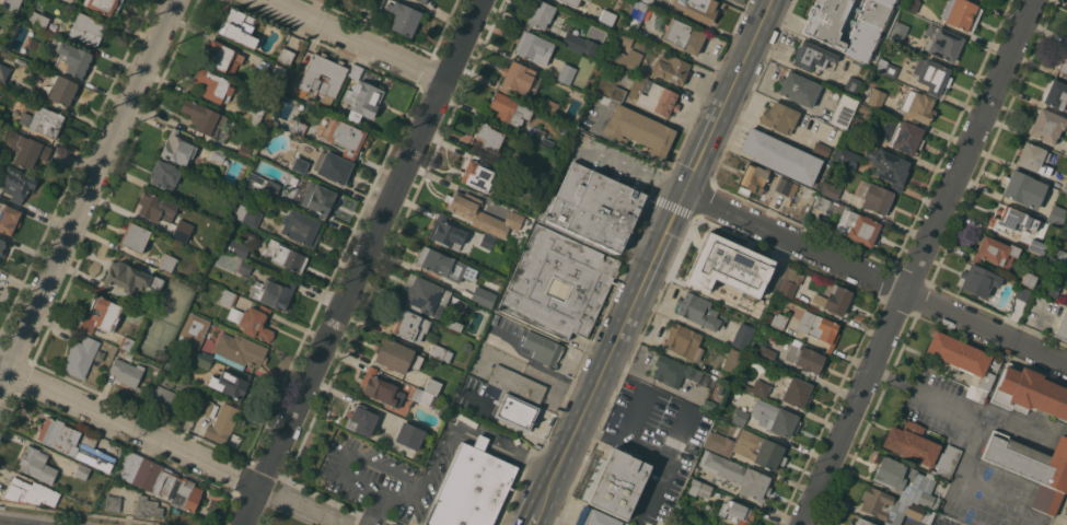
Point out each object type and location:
building: (584, 0)
building: (737, 0)
building: (979, 0)
building: (424, 1)
building: (648, 1)
building: (376, 2)
building: (571, 2)
building: (11, 4)
building: (911, 4)
building: (104, 5)
building: (703, 10)
building: (541, 13)
building: (903, 13)
building: (961, 14)
building: (635, 15)
building: (403, 17)
building: (607, 17)
building: (38, 19)
building: (236, 27)
building: (88, 28)
building: (820, 31)
building: (897, 32)
building: (40, 33)
building: (683, 35)
building: (625, 39)
road: (356, 40)
building: (942, 43)
building: (579, 44)
building: (533, 47)
building: (286, 56)
building: (221, 57)
building: (812, 57)
building: (71, 58)
building: (629, 58)
building: (1064, 63)
building: (672, 69)
building: (890, 70)
building: (278, 71)
building: (355, 71)
building: (3, 72)
building: (566, 73)
building: (324, 75)
building: (931, 75)
building: (519, 79)
building: (851, 85)
building: (214, 87)
building: (798, 89)
building: (62, 90)
building: (619, 94)
building: (1056, 94)
building: (877, 97)
building: (362, 100)
building: (658, 100)
building: (549, 106)
building: (917, 107)
building: (1, 108)
building: (509, 108)
building: (863, 108)
building: (844, 110)
building: (255, 115)
building: (202, 117)
building: (779, 117)
building: (42, 119)
building: (856, 125)
building: (1047, 126)
building: (298, 127)
building: (639, 129)
building: (906, 137)
building: (347, 138)
building: (487, 138)
building: (541, 138)
road: (629, 145)
building: (177, 148)
building: (26, 149)
building: (821, 149)
building: (245, 151)
building: (506, 151)
building: (1066, 152)
building: (218, 154)
building: (781, 156)
building: (846, 157)
building: (1033, 159)
road: (617, 161)
building: (300, 165)
building: (334, 167)
building: (891, 168)
building: (164, 174)
building: (476, 174)
building: (527, 180)
building: (16, 183)
building: (769, 183)
building: (260, 184)
road: (671, 186)
building: (1065, 186)
building: (830, 189)
building: (1023, 189)
road: (88, 190)
building: (874, 197)
building: (317, 200)
building: (156, 207)
building: (593, 208)
building: (248, 214)
building: (482, 214)
building: (1056, 214)
building: (8, 218)
building: (848, 221)
building: (1012, 221)
building: (300, 227)
building: (181, 231)
building: (446, 232)
building: (135, 236)
road: (664, 238)
building: (486, 241)
building: (1036, 246)
building: (237, 247)
building: (2, 248)
building: (995, 252)
building: (287, 256)
building: (1060, 257)
building: (432, 260)
road: (359, 261)
building: (167, 262)
road: (919, 262)
building: (727, 265)
building: (245, 266)
road: (878, 277)
building: (129, 278)
building: (977, 279)
building: (1029, 279)
building: (588, 281)
building: (791, 281)
building: (463, 288)
building: (1052, 289)
building: (276, 293)
building: (425, 295)
building: (480, 296)
building: (228, 297)
building: (834, 300)
building: (1018, 302)
building: (697, 311)
building: (102, 315)
building: (767, 317)
building: (779, 320)
building: (253, 322)
building: (453, 324)
building: (409, 325)
building: (819, 327)
building: (1062, 327)
building: (743, 336)
building: (193, 338)
building: (684, 341)
building: (127, 342)
building: (542, 348)
building: (240, 349)
building: (440, 352)
building: (765, 353)
building: (396, 355)
building: (81, 357)
building: (199, 358)
building: (807, 358)
building: (965, 362)
building: (731, 364)
building: (674, 371)
building: (127, 373)
building: (415, 380)
building: (229, 384)
building: (518, 384)
building: (432, 386)
building: (758, 386)
building: (379, 387)
building: (793, 389)
building: (1030, 392)
building: (421, 396)
building: (165, 398)
building: (459, 400)
building: (709, 405)
building: (208, 408)
building: (513, 411)
building: (740, 416)
building: (775, 418)
building: (362, 420)
building: (222, 423)
building: (409, 435)
road: (483, 439)
road: (441, 441)
building: (72, 442)
building: (912, 443)
road: (170, 447)
building: (750, 447)
road: (351, 451)
road: (643, 452)
road: (524, 457)
building: (947, 460)
building: (36, 464)
building: (1032, 467)
building: (82, 471)
building: (737, 474)
building: (159, 481)
building: (618, 482)
building: (472, 487)
road: (653, 488)
building: (699, 488)
building: (31, 492)
building: (900, 493)
road: (550, 497)
building: (113, 502)
road: (395, 503)
building: (147, 506)
building: (737, 512)
building: (595, 517)
road: (540, 518)
building: (862, 522)
building: (673, 523)
building: (850, 524)

